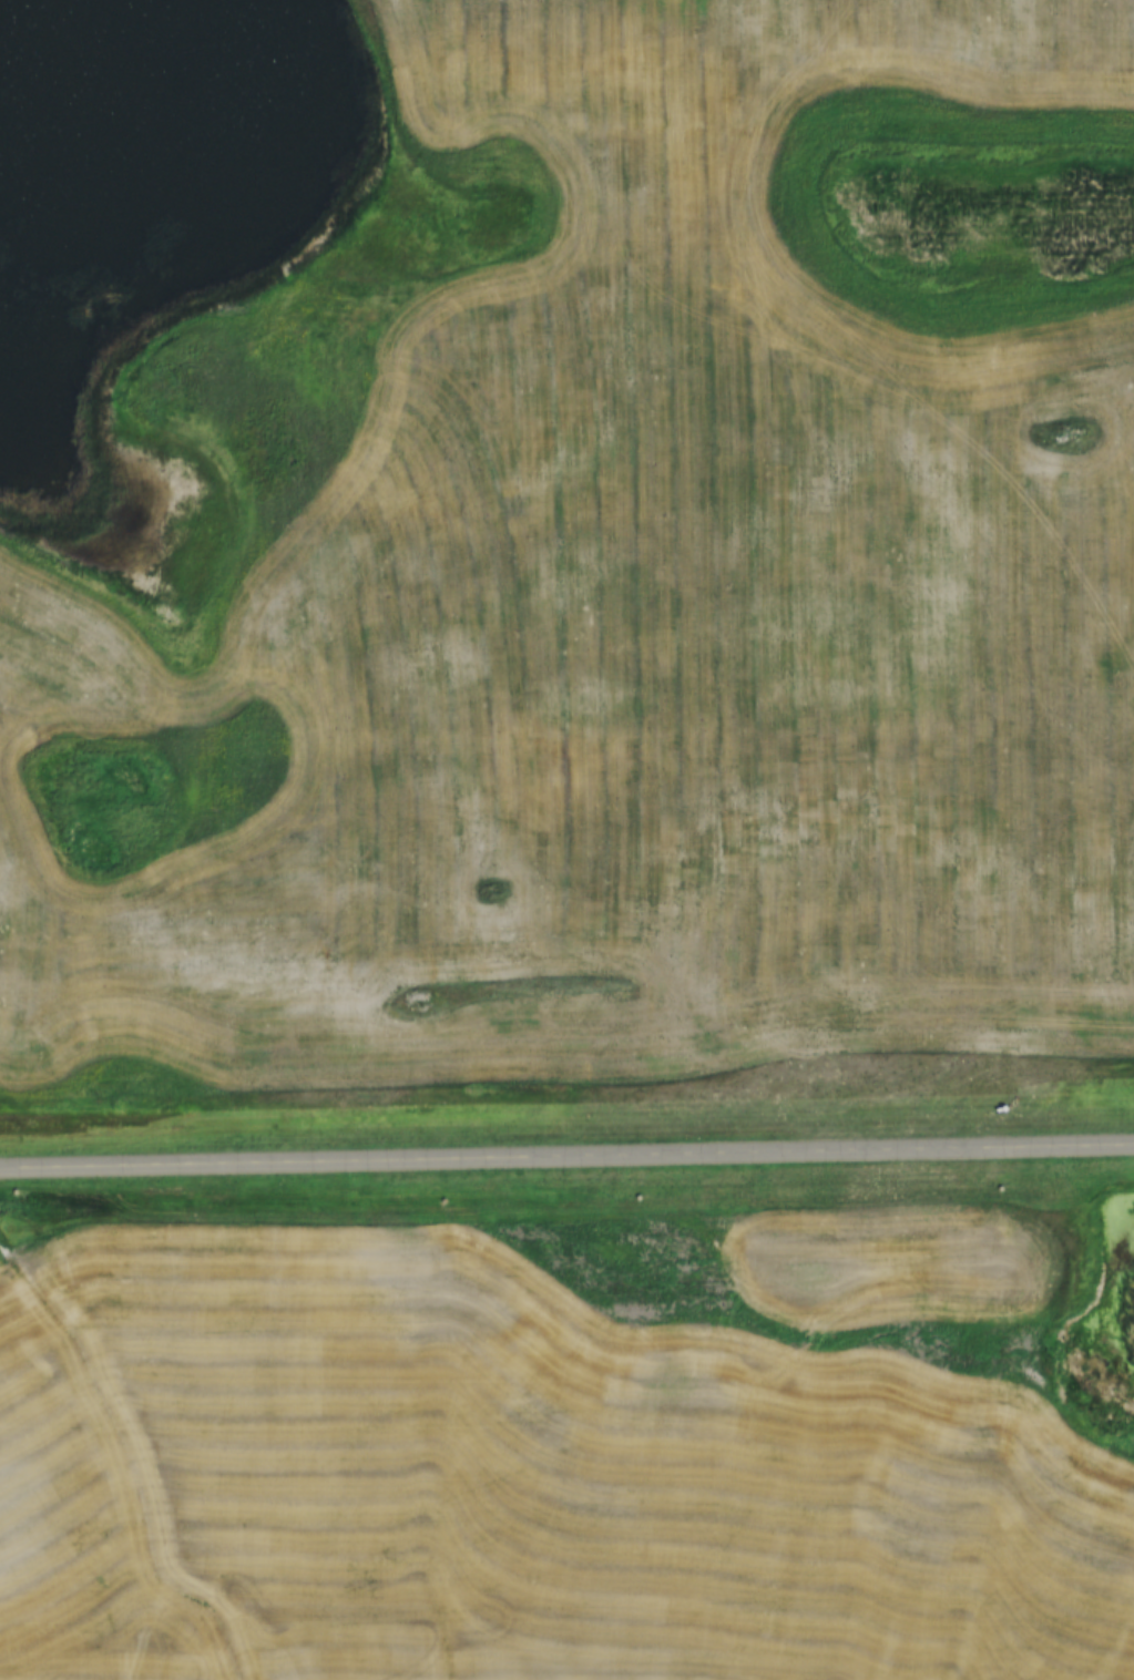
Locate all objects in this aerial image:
road: (566, 1158)

